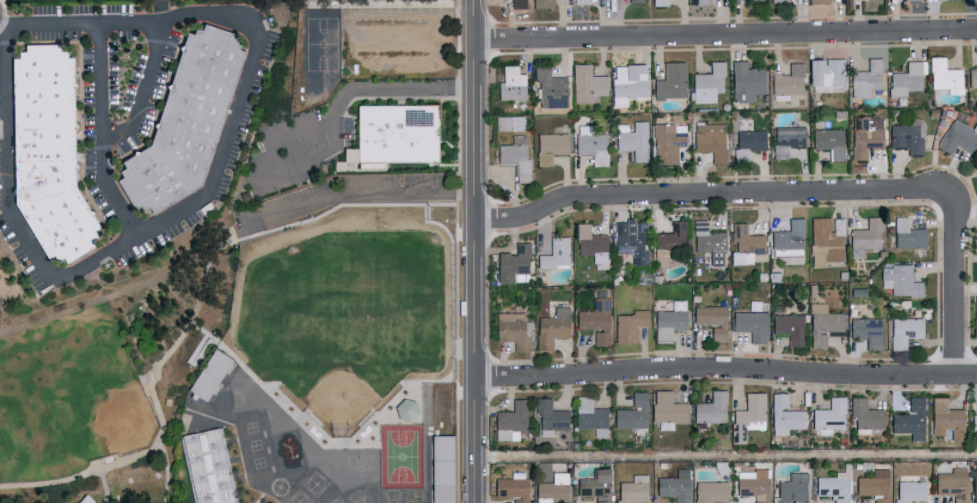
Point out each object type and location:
building: (759, 0)
building: (918, 0)
building: (581, 1)
building: (636, 1)
building: (778, 1)
building: (819, 1)
building: (660, 2)
building: (699, 2)
building: (543, 3)
building: (518, 4)
road: (164, 10)
road: (475, 19)
road: (7, 23)
road: (726, 36)
building: (826, 72)
building: (945, 76)
building: (973, 77)
building: (866, 79)
building: (906, 79)
building: (672, 81)
building: (745, 81)
building: (789, 81)
building: (628, 82)
building: (513, 83)
building: (709, 83)
building: (588, 84)
building: (552, 87)
road: (356, 88)
road: (143, 92)
building: (508, 122)
building: (188, 124)
road: (102, 134)
building: (865, 135)
building: (908, 136)
building: (959, 136)
building: (404, 138)
building: (634, 139)
building: (787, 139)
building: (711, 140)
building: (829, 141)
building: (669, 142)
building: (748, 143)
building: (551, 146)
building: (593, 147)
building: (51, 155)
building: (515, 156)
road: (302, 160)
building: (976, 173)
road: (703, 192)
road: (357, 195)
parking lot: (346, 199)
road: (199, 203)
building: (907, 234)
building: (867, 238)
building: (789, 239)
building: (631, 240)
building: (827, 240)
building: (709, 242)
building: (671, 243)
building: (746, 243)
building: (591, 245)
building: (555, 253)
building: (514, 264)
road: (476, 270)
road: (954, 277)
building: (900, 280)
building: (595, 320)
building: (712, 320)
building: (670, 321)
building: (751, 324)
building: (823, 324)
building: (629, 325)
building: (552, 327)
building: (789, 327)
building: (975, 327)
building: (515, 330)
building: (867, 331)
building: (904, 331)
road: (726, 367)
building: (207, 373)
park: (108, 379)
building: (217, 384)
road: (158, 405)
park: (88, 407)
building: (711, 408)
building: (405, 409)
building: (666, 410)
building: (632, 412)
building: (784, 415)
building: (748, 416)
building: (829, 416)
building: (549, 417)
building: (590, 417)
building: (911, 419)
building: (946, 420)
building: (510, 421)
building: (974, 422)
park: (9, 440)
road: (726, 455)
building: (214, 470)
road: (168, 471)
building: (448, 472)
building: (595, 485)
building: (835, 485)
building: (875, 485)
building: (953, 485)
road: (107, 486)
building: (674, 486)
building: (552, 488)
building: (791, 488)
building: (633, 489)
building: (709, 491)
building: (910, 491)

